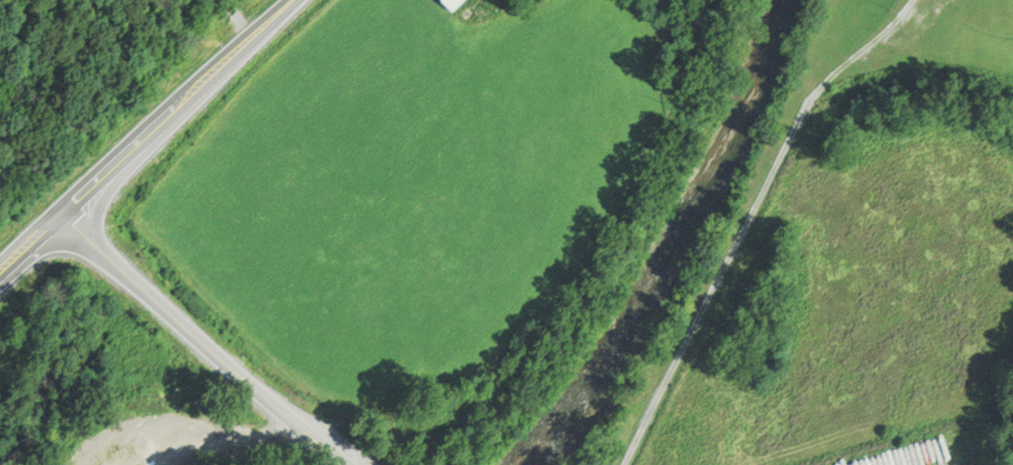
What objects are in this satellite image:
building: (453, 4)
park: (989, 18)
park: (915, 41)
road: (150, 138)
road: (750, 217)
river: (680, 247)
road: (204, 345)

